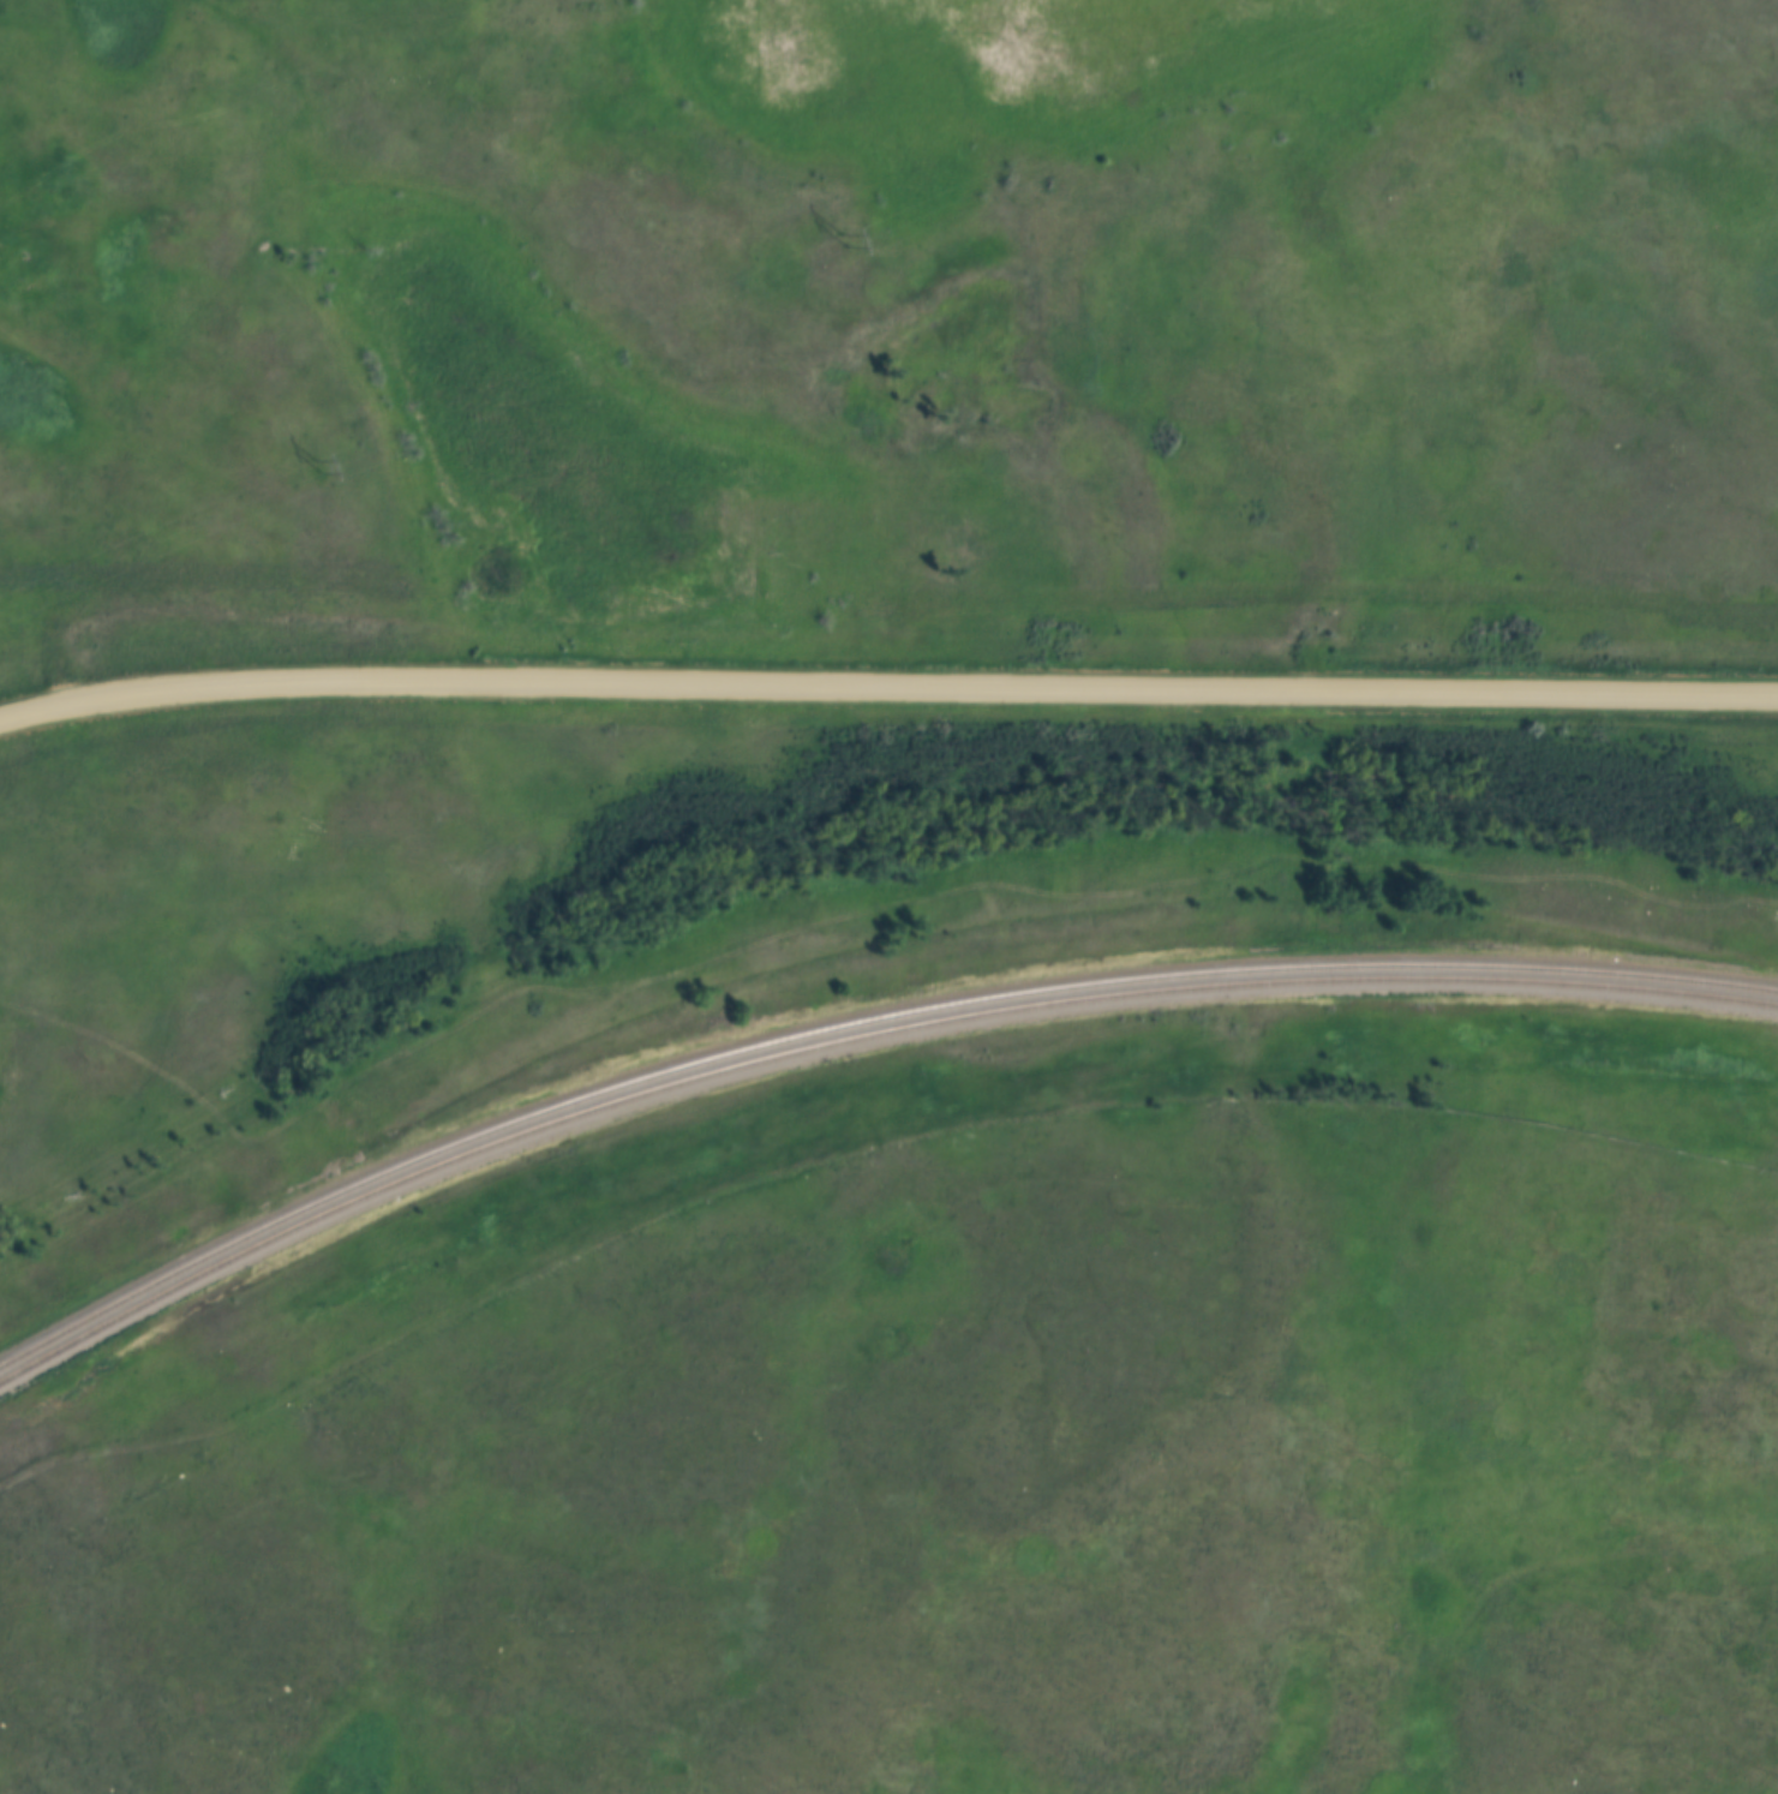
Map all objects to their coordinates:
power tower: (842, 239)
power tower: (318, 465)
road: (886, 689)
railway: (856, 1021)
railway: (856, 1036)

